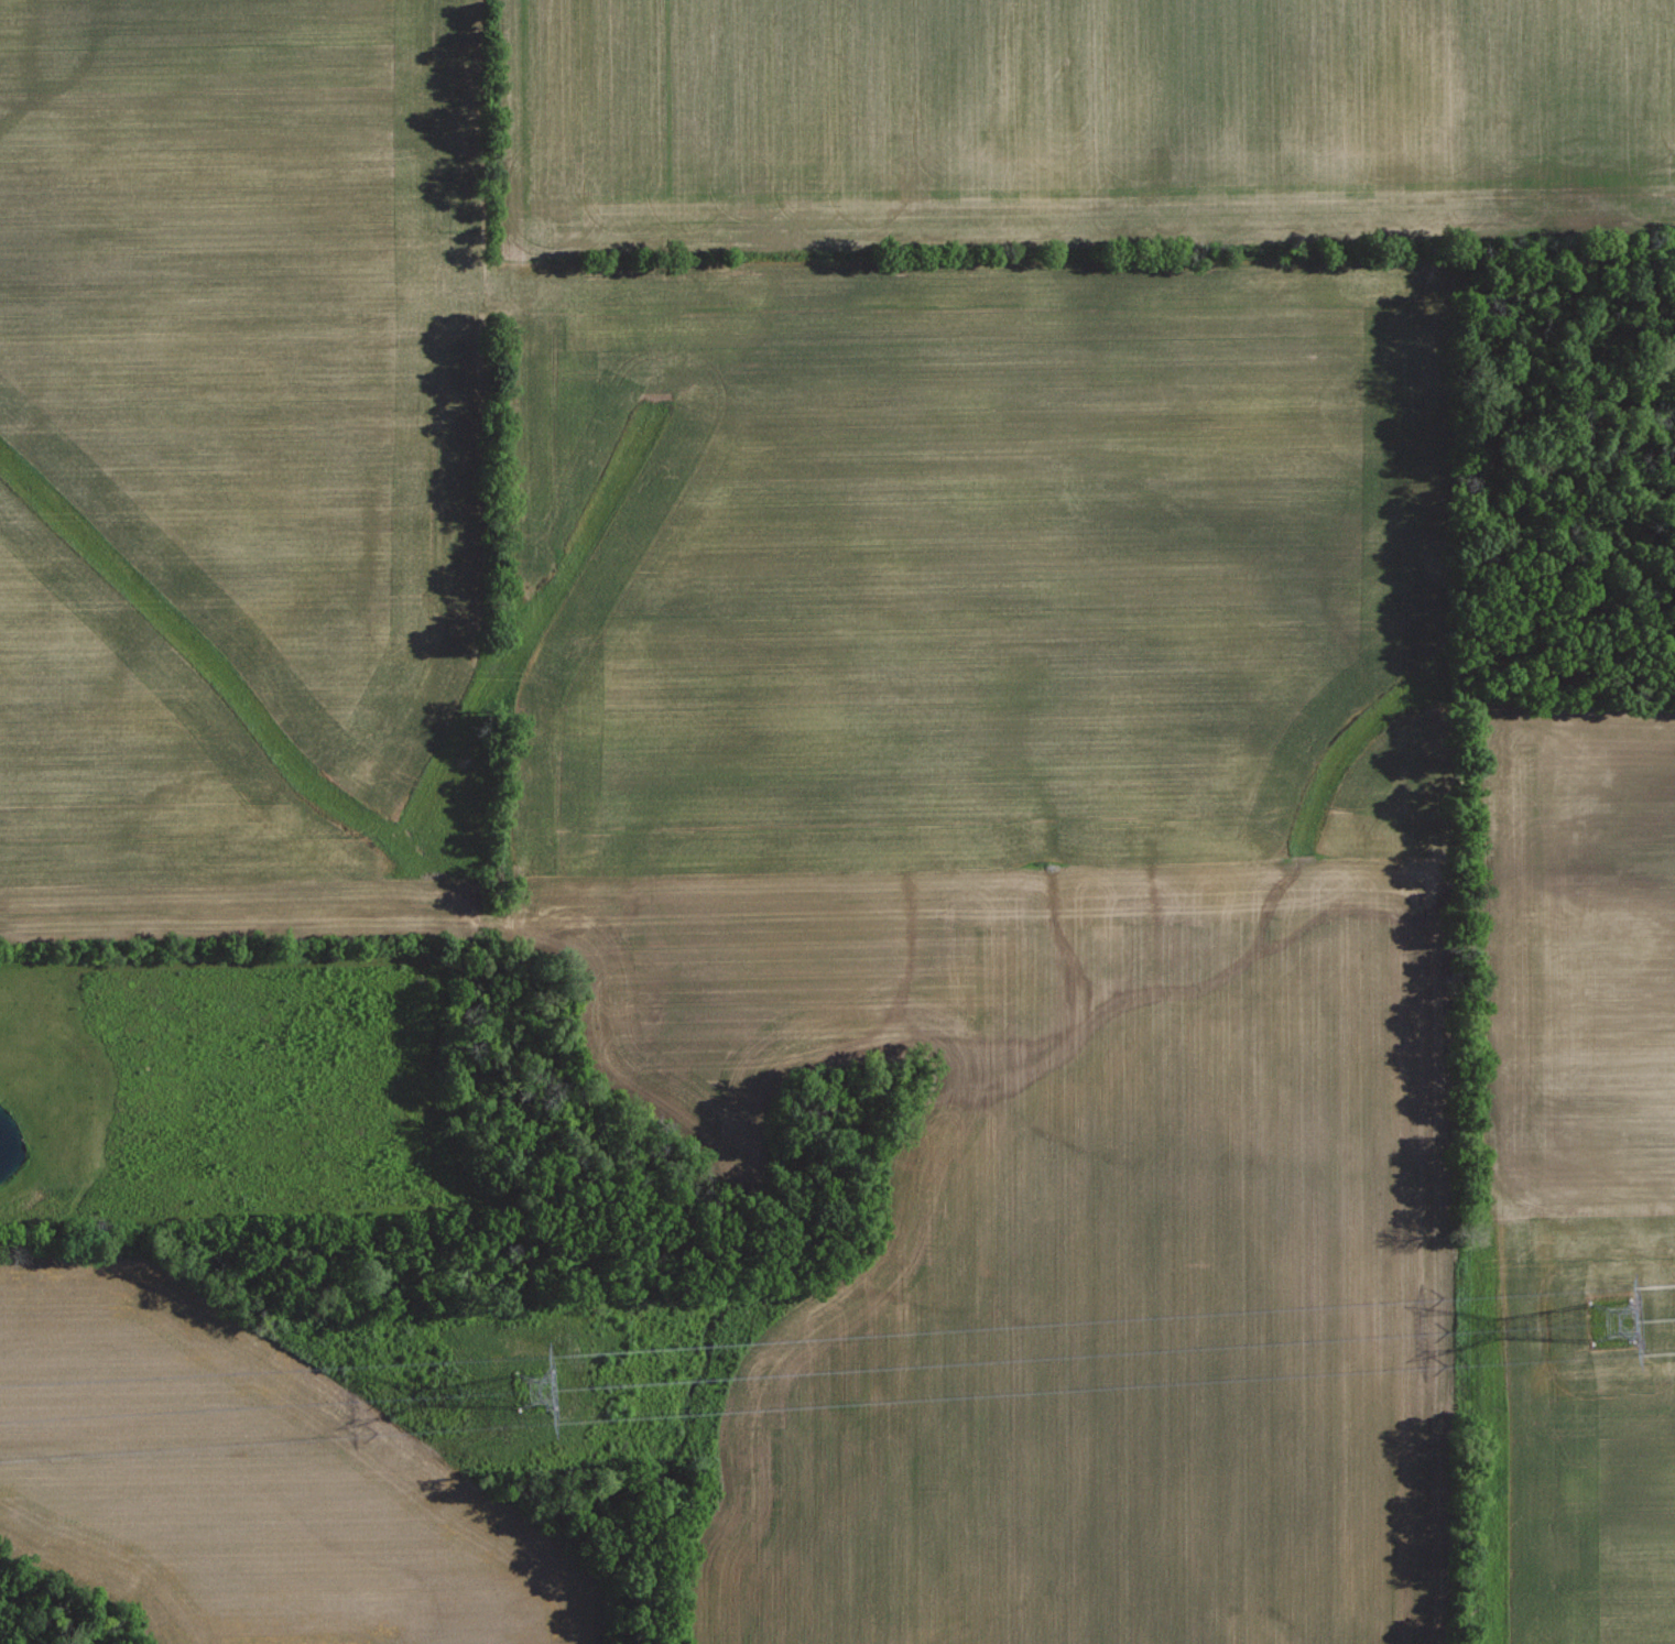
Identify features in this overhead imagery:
power tower: (1616, 1320)
road: (1653, 1371)
power tower: (540, 1385)

